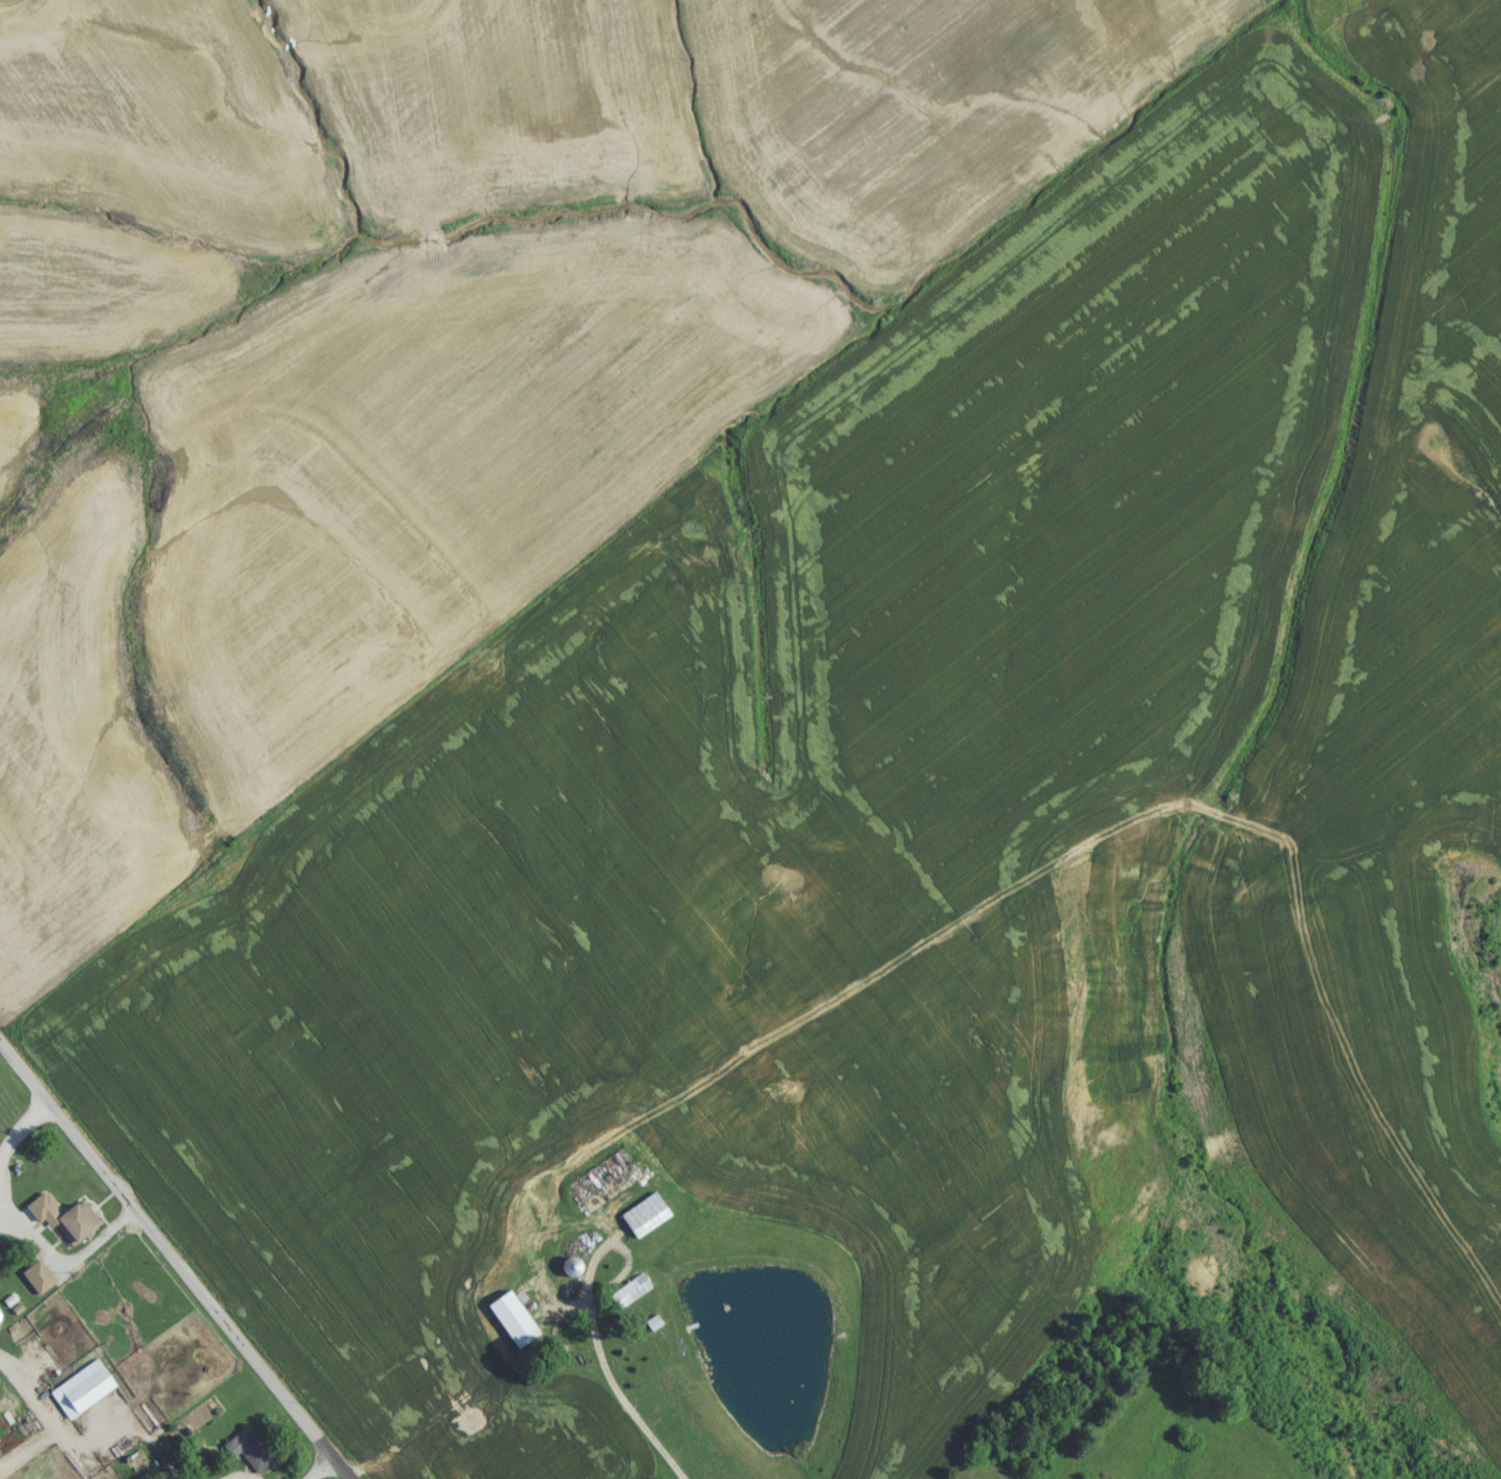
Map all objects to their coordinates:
road: (20, 1125)
road: (1, 1203)
building: (643, 1221)
building: (74, 1227)
road: (165, 1252)
road: (58, 1258)
building: (569, 1272)
building: (35, 1283)
building: (628, 1297)
building: (510, 1326)
road: (605, 1368)
road: (23, 1387)
building: (81, 1396)
building: (248, 1457)
road: (322, 1472)
road: (337, 1472)

